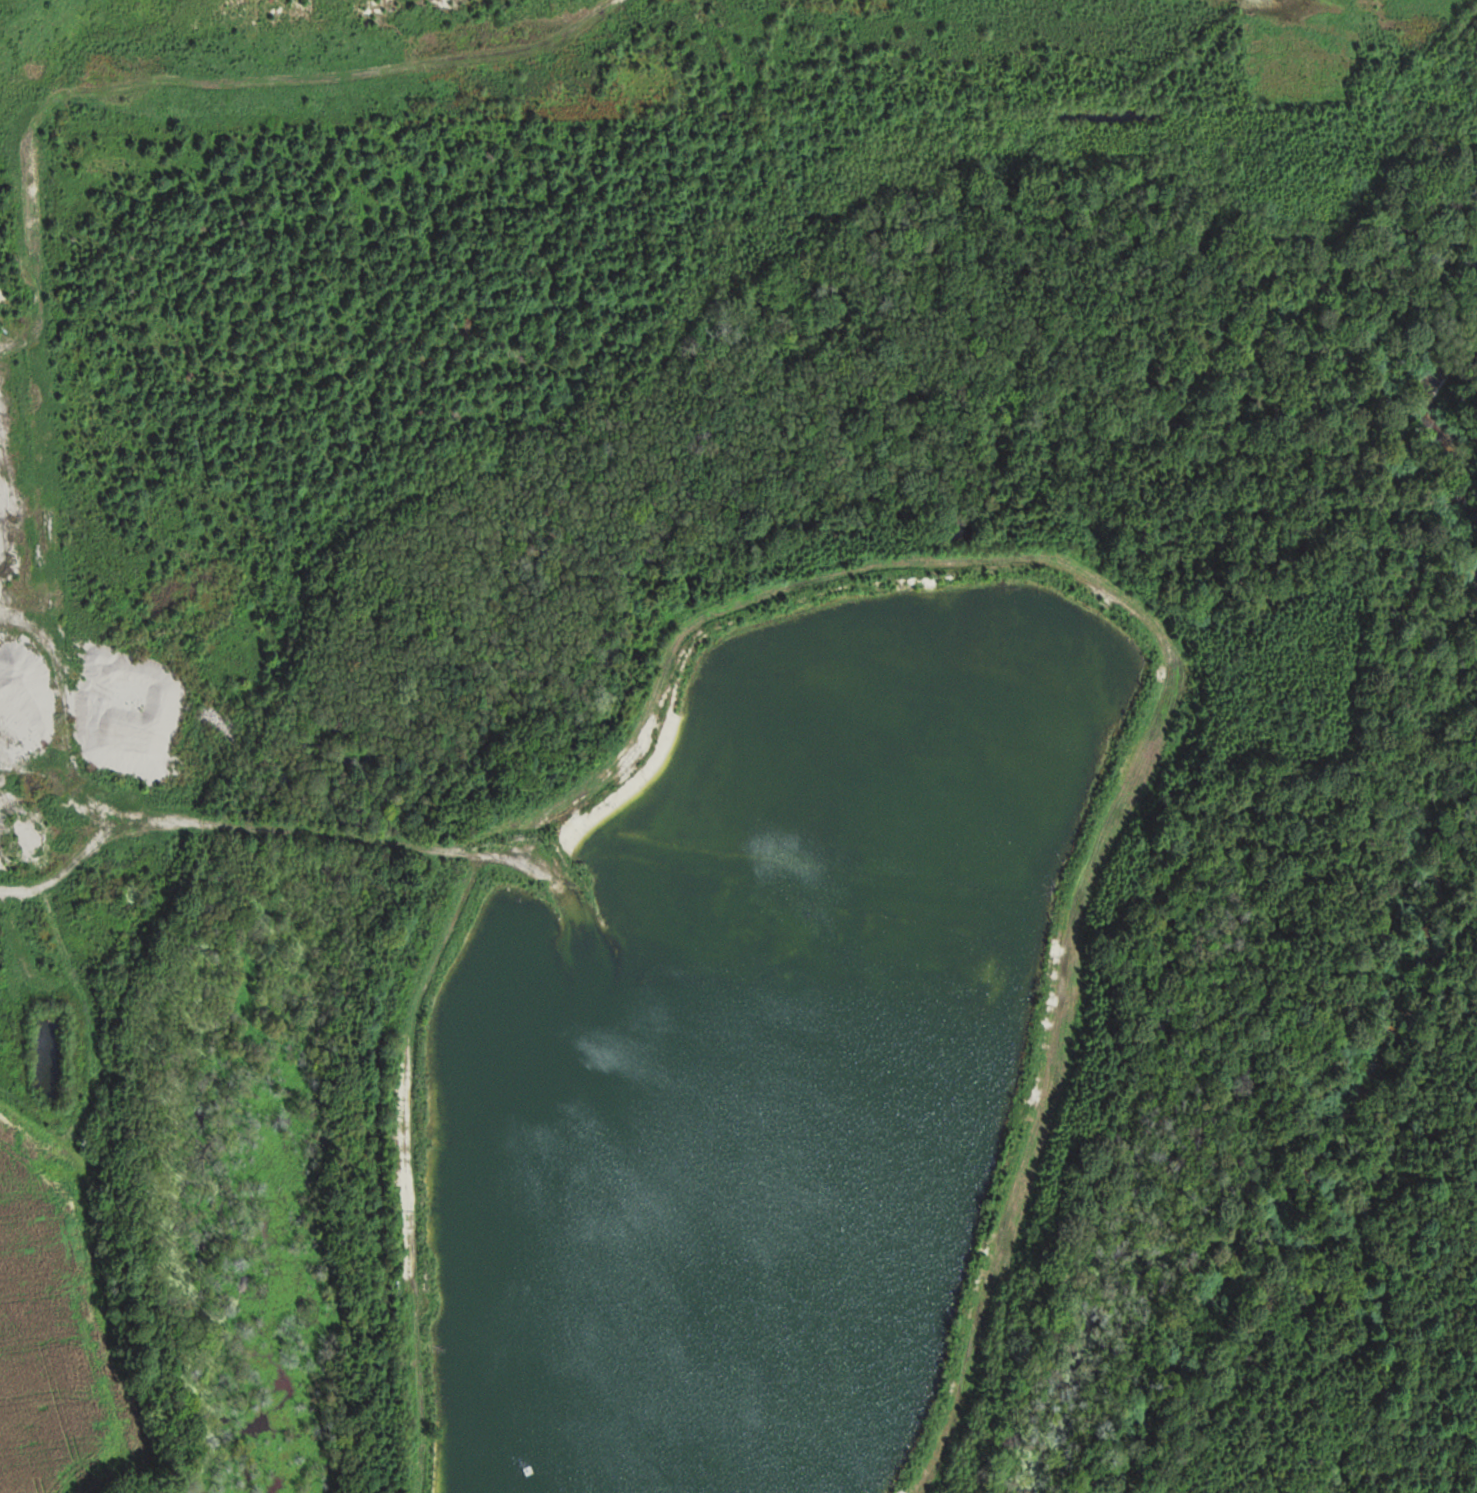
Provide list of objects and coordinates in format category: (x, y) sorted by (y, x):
road: (0, 11)

